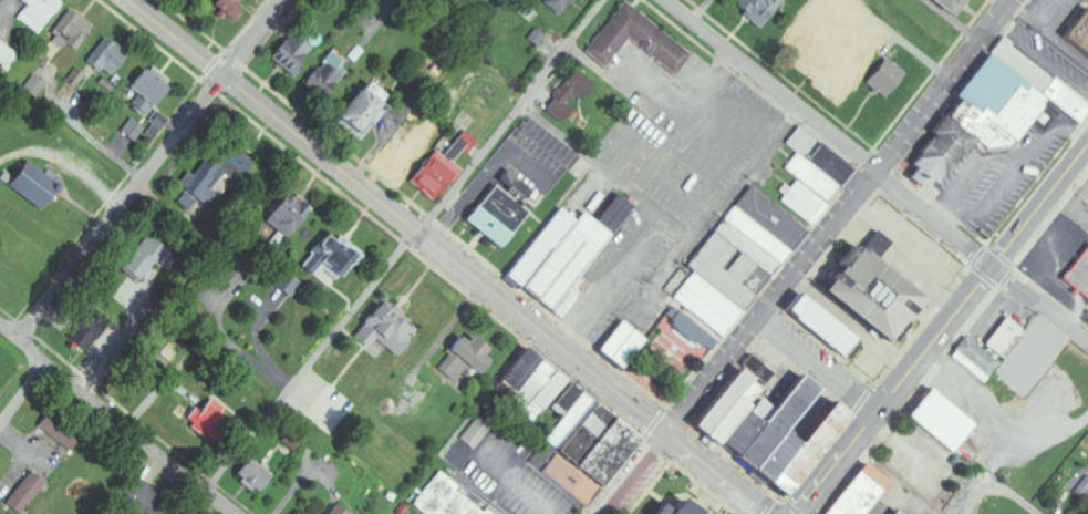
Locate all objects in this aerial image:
road: (1004, 2)
building: (557, 6)
building: (947, 6)
building: (227, 8)
building: (755, 9)
building: (39, 11)
building: (70, 30)
building: (1079, 31)
road: (251, 38)
building: (636, 40)
building: (841, 47)
building: (290, 54)
building: (6, 58)
building: (105, 58)
building: (324, 73)
building: (881, 76)
building: (34, 85)
building: (145, 88)
building: (567, 95)
building: (989, 109)
building: (360, 113)
road: (510, 116)
building: (133, 130)
road: (826, 133)
building: (819, 154)
road: (592, 160)
building: (397, 163)
building: (433, 174)
building: (811, 176)
building: (208, 178)
building: (28, 183)
road: (737, 185)
building: (800, 203)
road: (117, 207)
building: (278, 214)
building: (496, 215)
building: (768, 216)
road: (839, 216)
building: (750, 239)
building: (564, 249)
building: (325, 257)
road: (446, 257)
building: (143, 259)
building: (726, 269)
building: (1079, 274)
road: (613, 284)
building: (284, 285)
building: (872, 292)
building: (706, 302)
road: (1039, 307)
building: (820, 322)
road: (941, 329)
building: (83, 331)
building: (380, 331)
building: (1004, 337)
building: (683, 341)
building: (621, 342)
building: (462, 354)
building: (974, 358)
park: (10, 371)
road: (305, 373)
road: (23, 392)
road: (856, 394)
building: (723, 400)
building: (727, 419)
road: (116, 420)
building: (941, 420)
building: (208, 421)
building: (777, 422)
building: (475, 432)
building: (740, 432)
building: (583, 446)
building: (809, 449)
building: (777, 455)
road: (633, 473)
building: (251, 474)
building: (30, 492)
building: (859, 492)
building: (138, 494)
building: (444, 498)
building: (998, 505)
building: (677, 508)
building: (331, 510)
building: (897, 512)
building: (889, 513)

